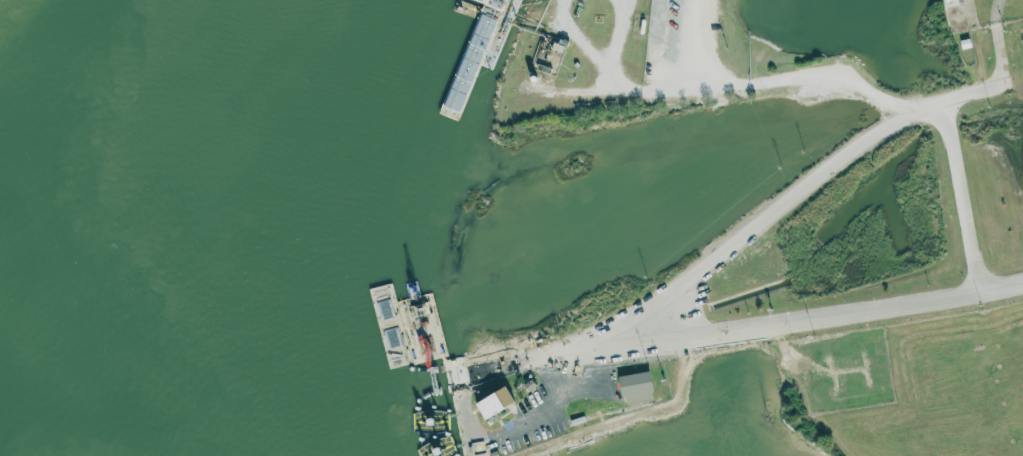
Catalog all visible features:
road: (622, 36)
road: (582, 43)
road: (698, 43)
road: (996, 46)
building: (555, 48)
road: (764, 92)
road: (962, 199)
road: (789, 210)
river: (300, 222)
road: (795, 321)
road: (497, 370)
building: (530, 387)
building: (637, 387)
building: (497, 404)
road: (518, 423)

